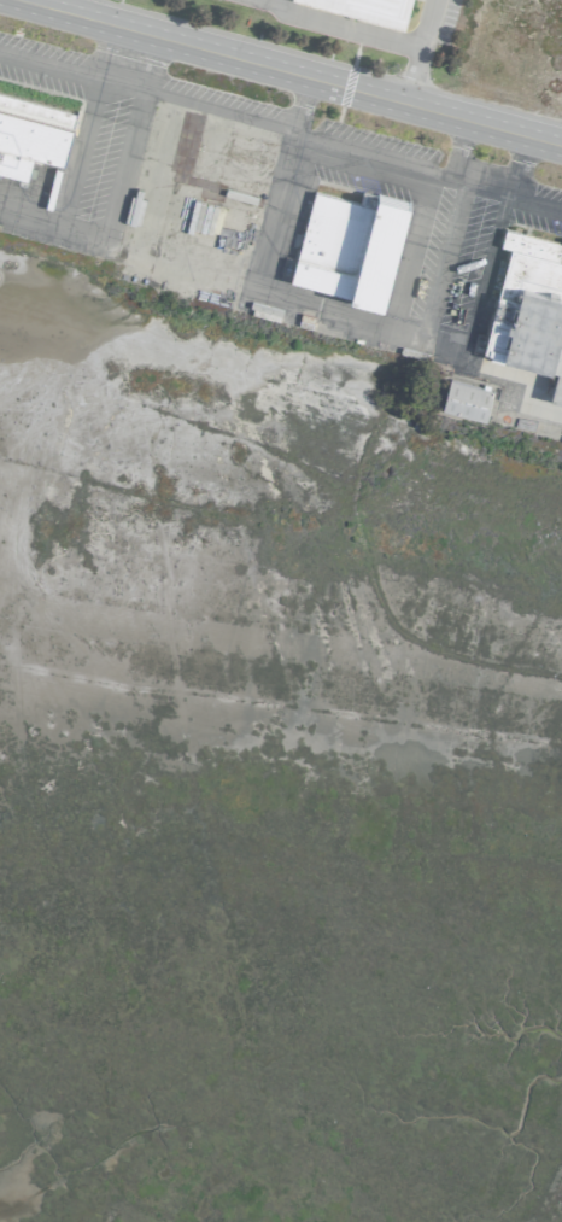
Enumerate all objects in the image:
building: (380, 5)
road: (343, 29)
road: (107, 48)
road: (420, 49)
road: (49, 66)
road: (308, 71)
road: (127, 88)
road: (298, 101)
road: (221, 115)
building: (31, 128)
road: (363, 153)
road: (521, 166)
road: (475, 187)
road: (537, 206)
building: (347, 244)
road: (298, 296)
building: (528, 305)
building: (464, 398)
airport: (281, 610)

